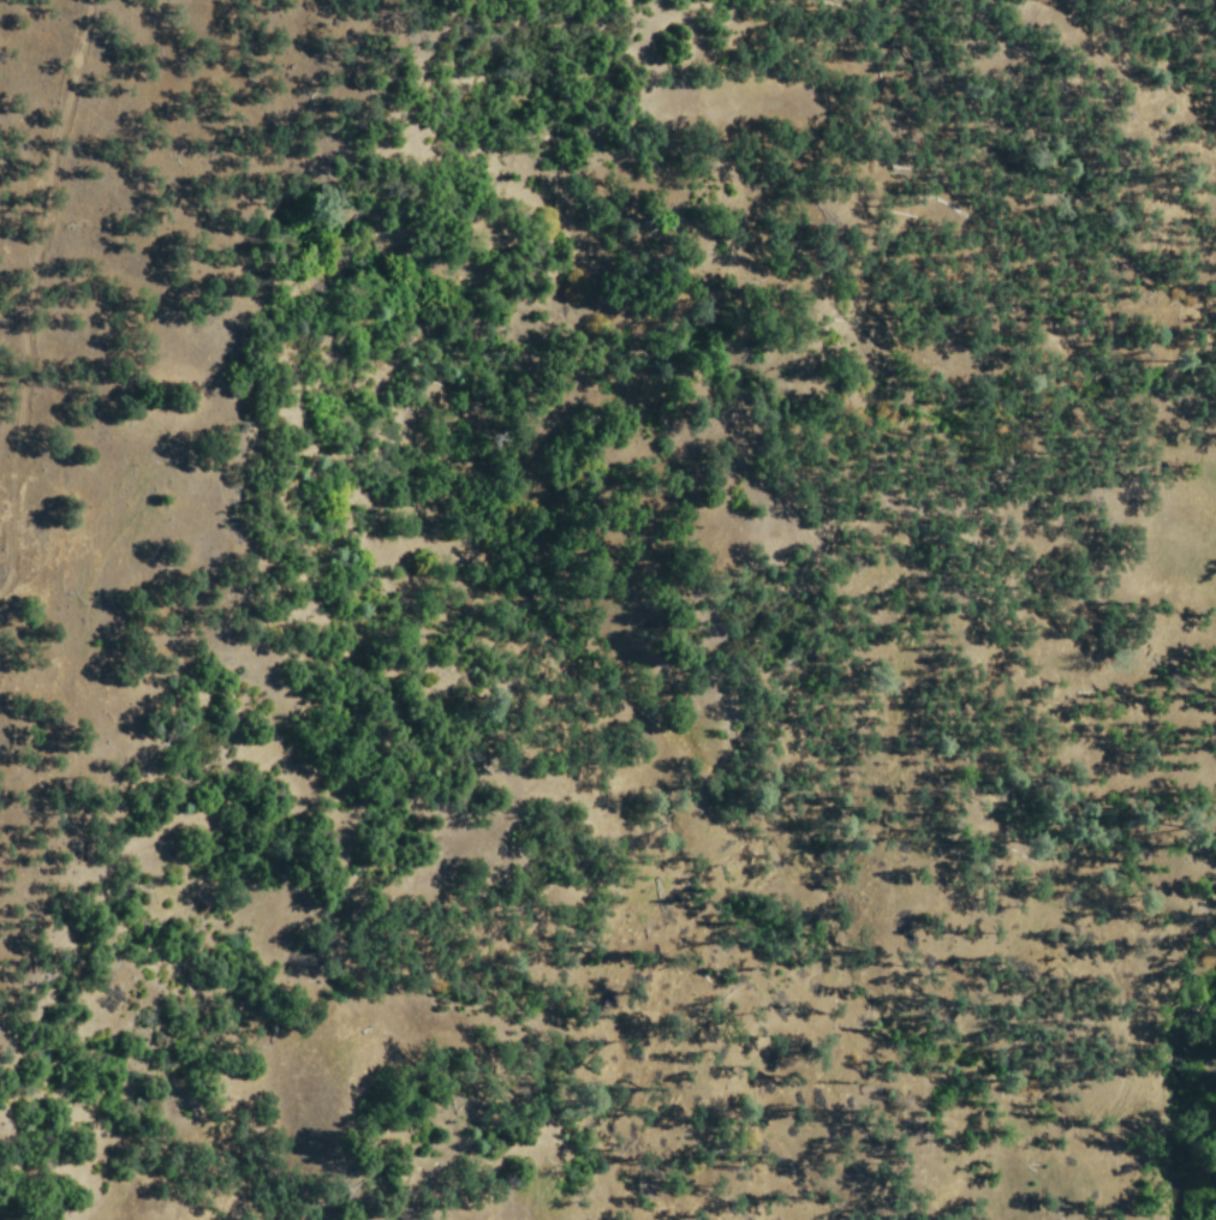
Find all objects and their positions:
road: (23, 291)

